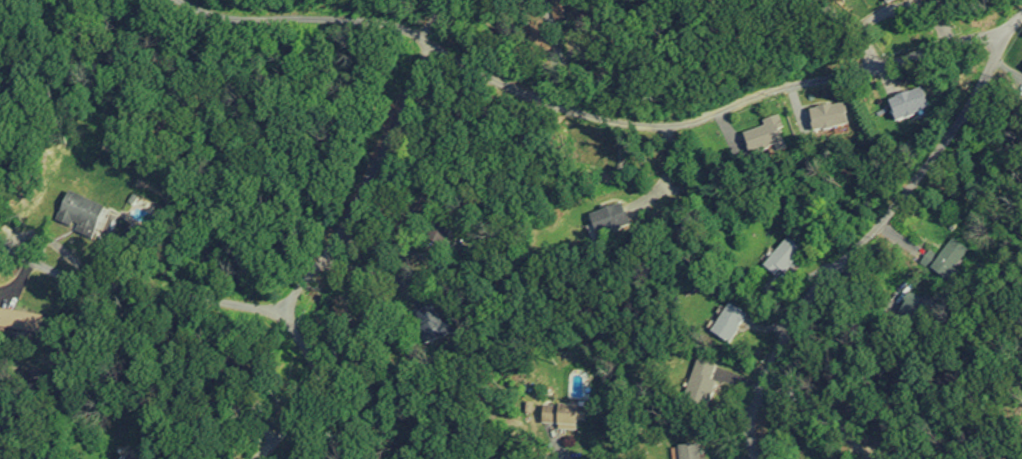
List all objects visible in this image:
building: (887, 0)
road: (308, 16)
road: (851, 30)
road: (984, 76)
building: (908, 107)
road: (716, 110)
building: (827, 119)
building: (765, 139)
road: (365, 182)
building: (953, 251)
building: (782, 260)
road: (818, 288)
road: (128, 295)
building: (14, 323)
building: (728, 326)
road: (314, 386)
building: (700, 386)
building: (558, 419)
building: (690, 452)

